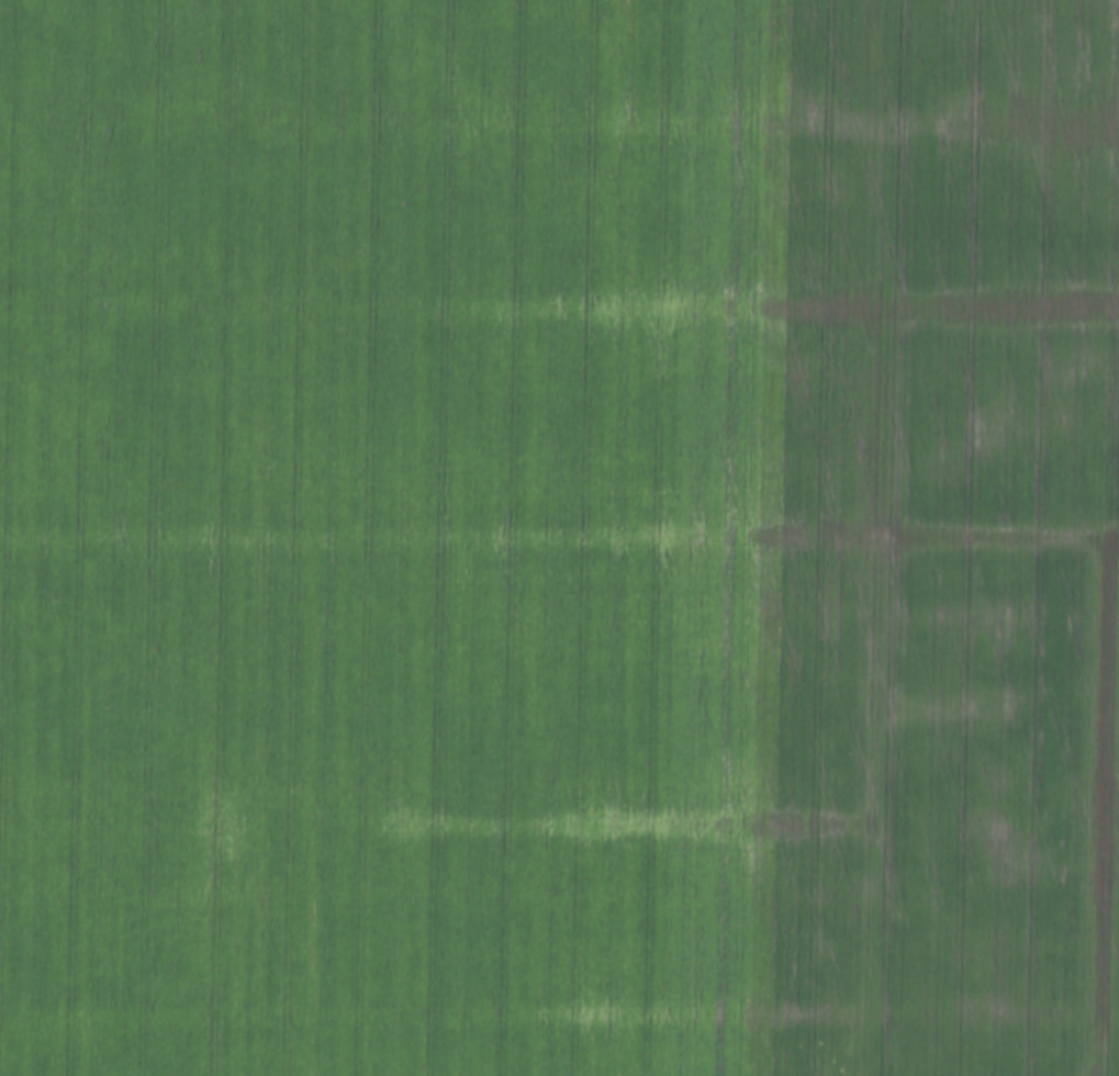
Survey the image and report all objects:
crop: (559, 538)

